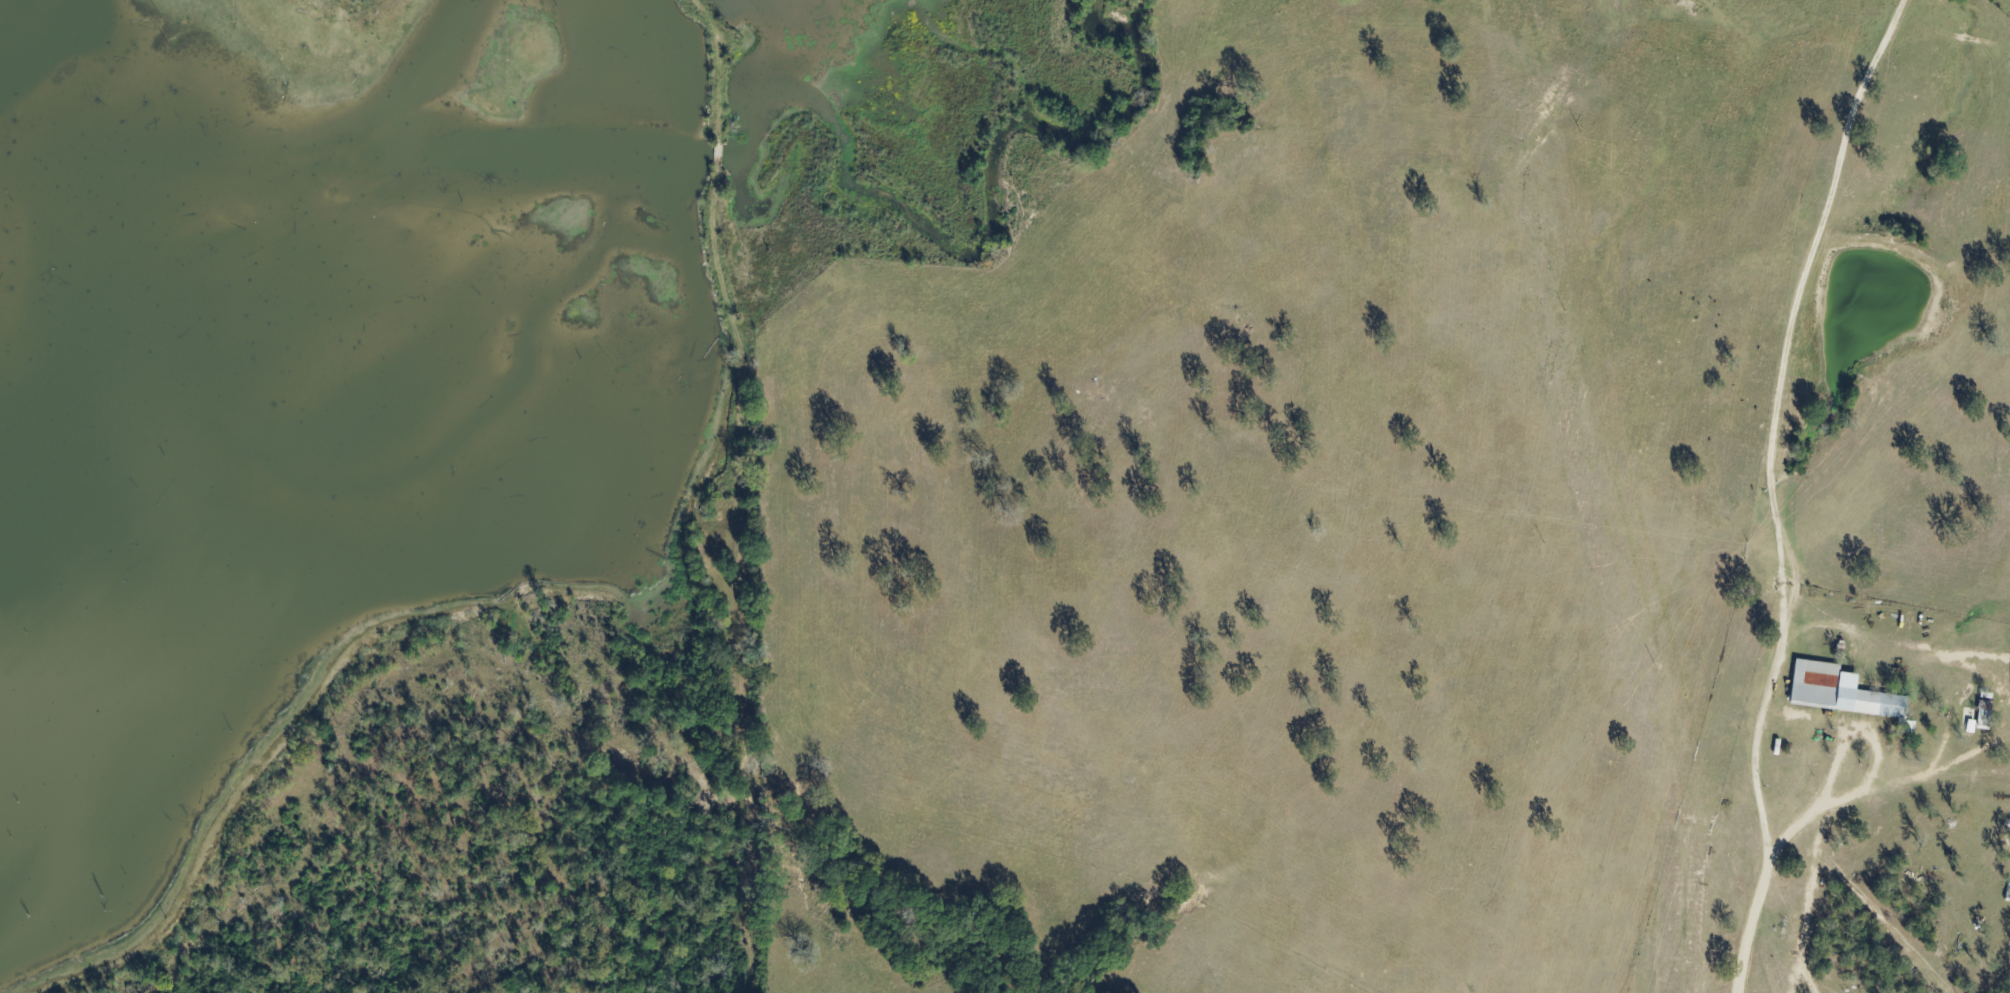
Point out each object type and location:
building: (2009, 684)
building: (1837, 691)

